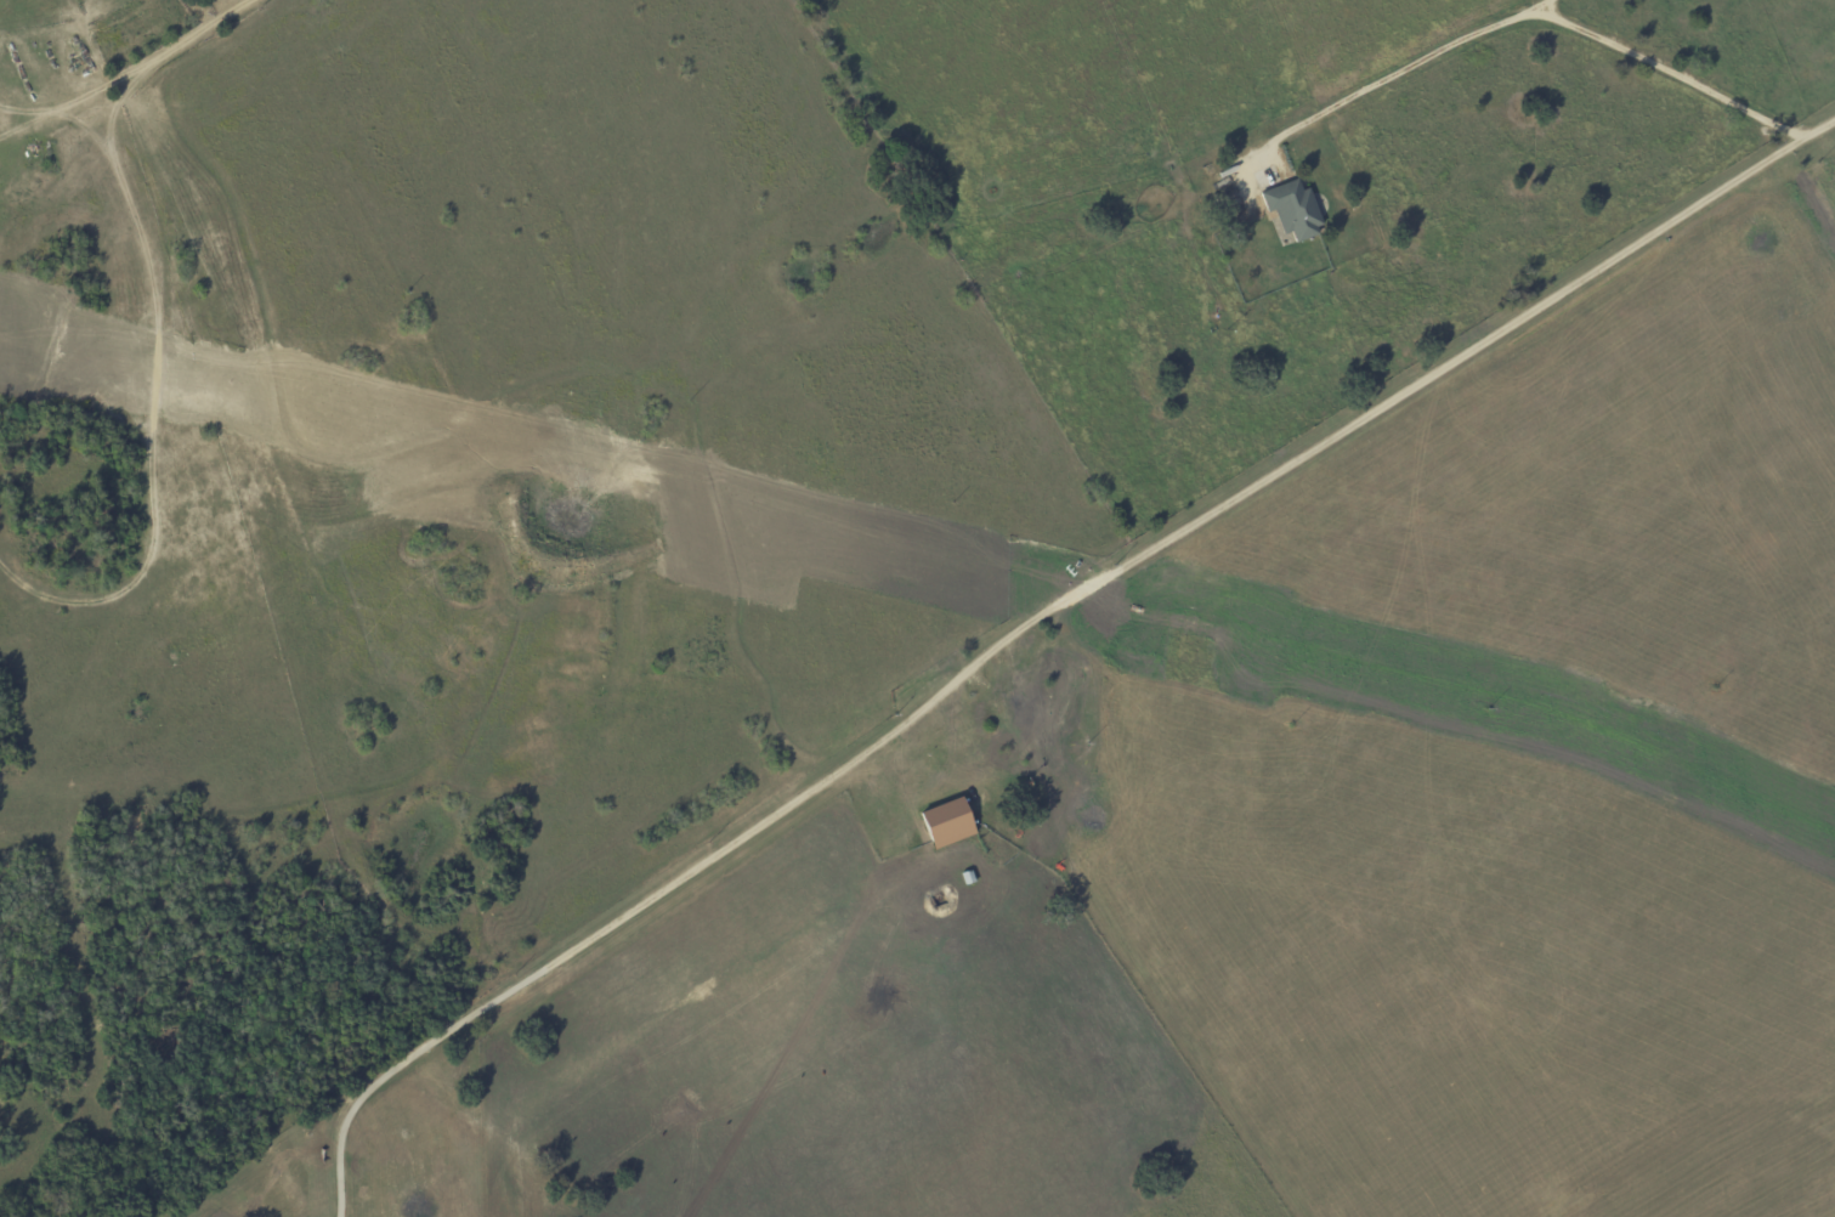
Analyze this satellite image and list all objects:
road: (1536, 16)
road: (129, 77)
building: (1290, 210)
road: (138, 613)
road: (940, 715)
building: (952, 821)
building: (972, 877)
road: (347, 1147)

